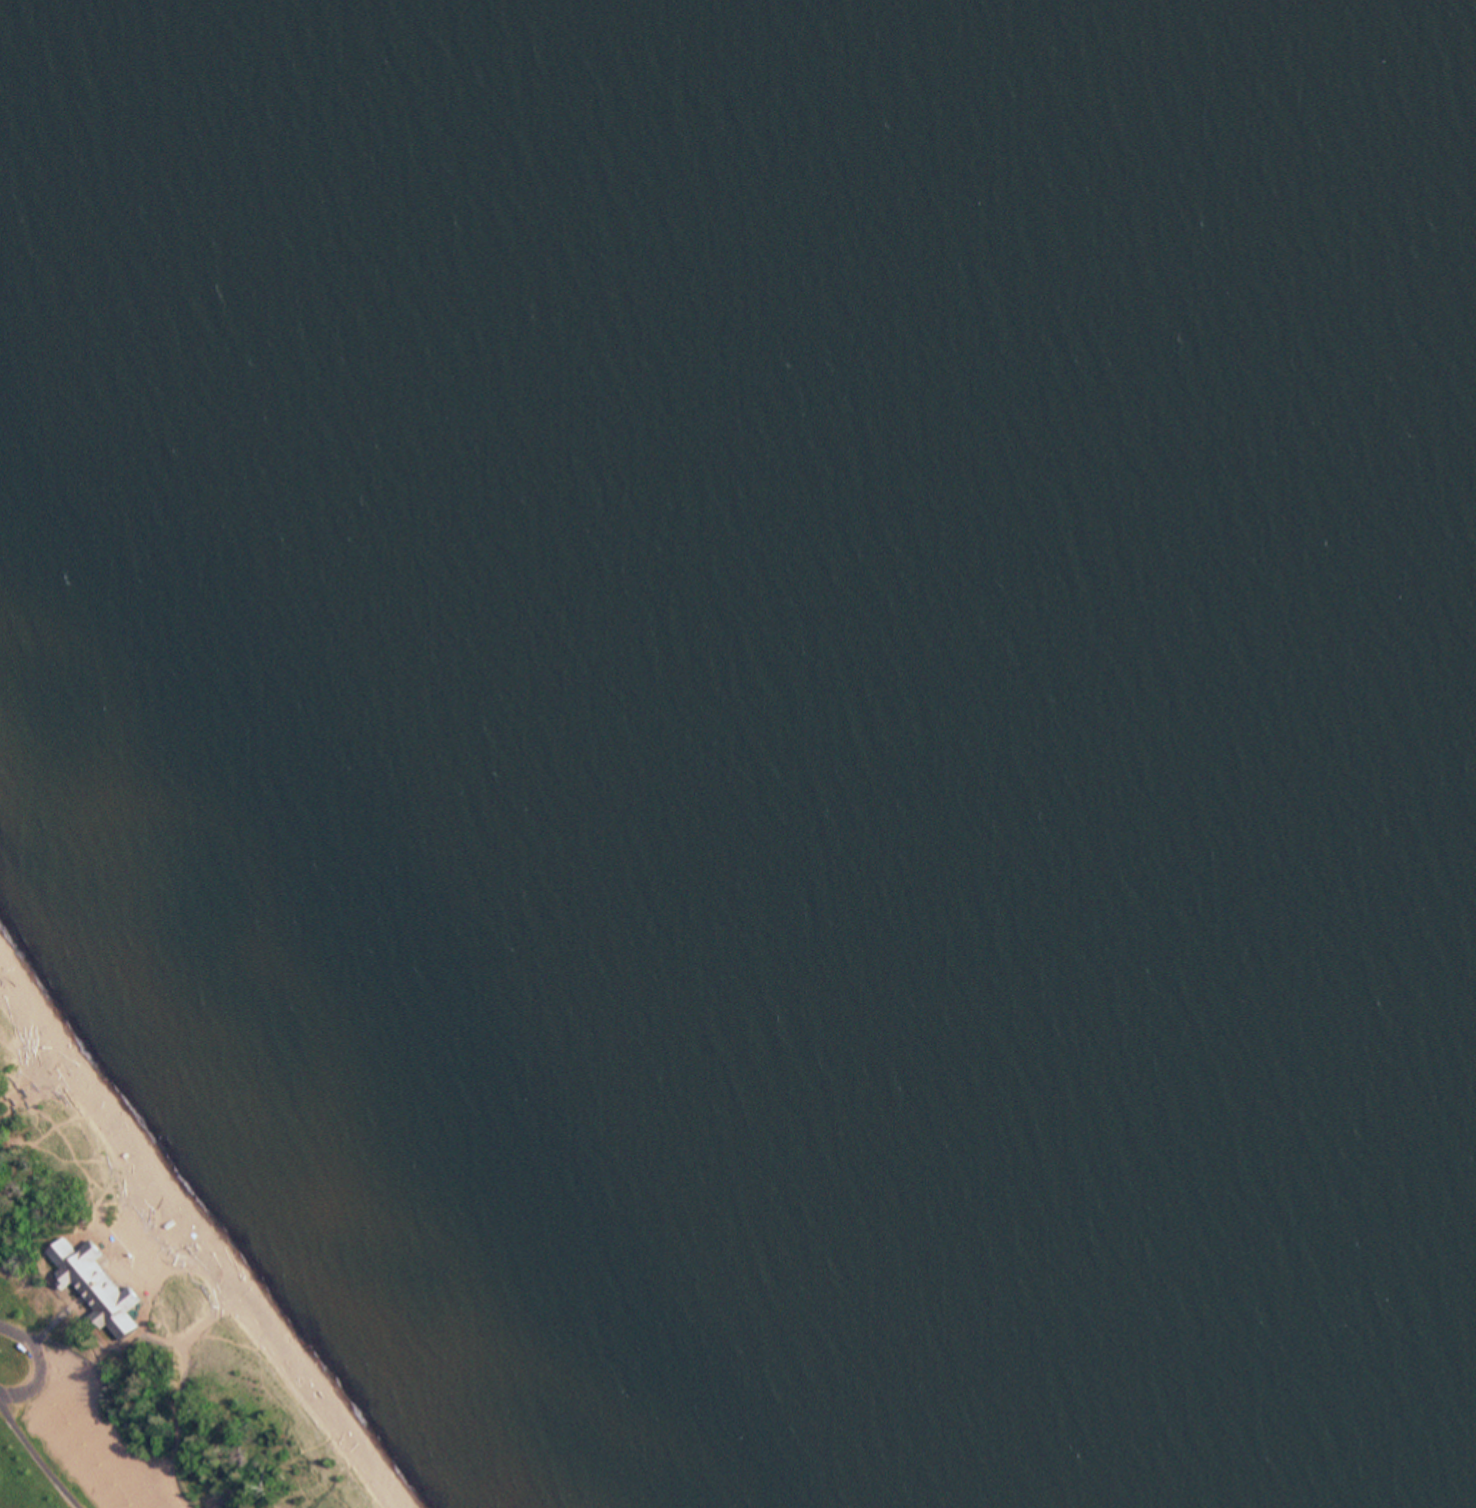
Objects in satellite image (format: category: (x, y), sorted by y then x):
building: (98, 1283)
road: (32, 1362)

